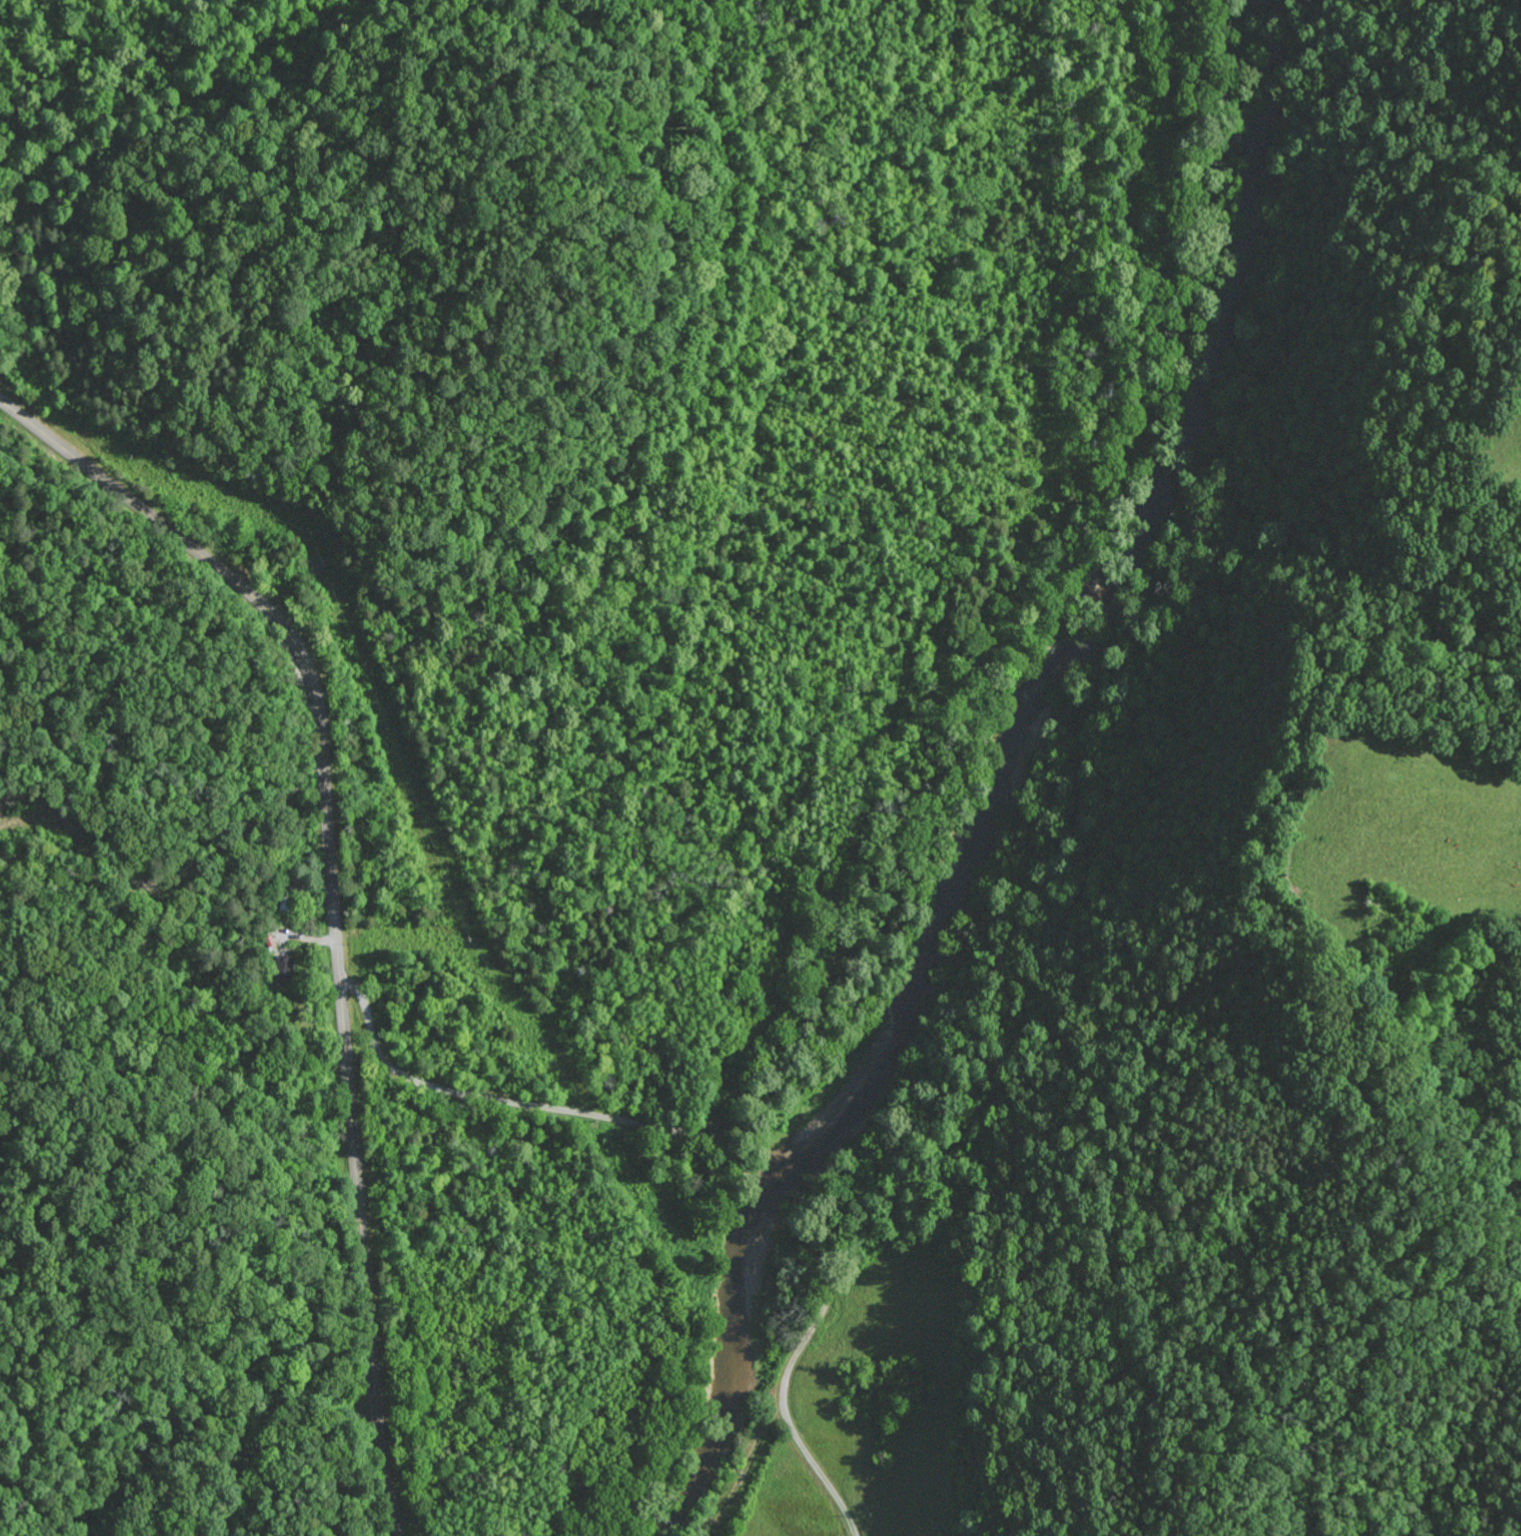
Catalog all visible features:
road: (333, 891)
road: (729, 1148)

